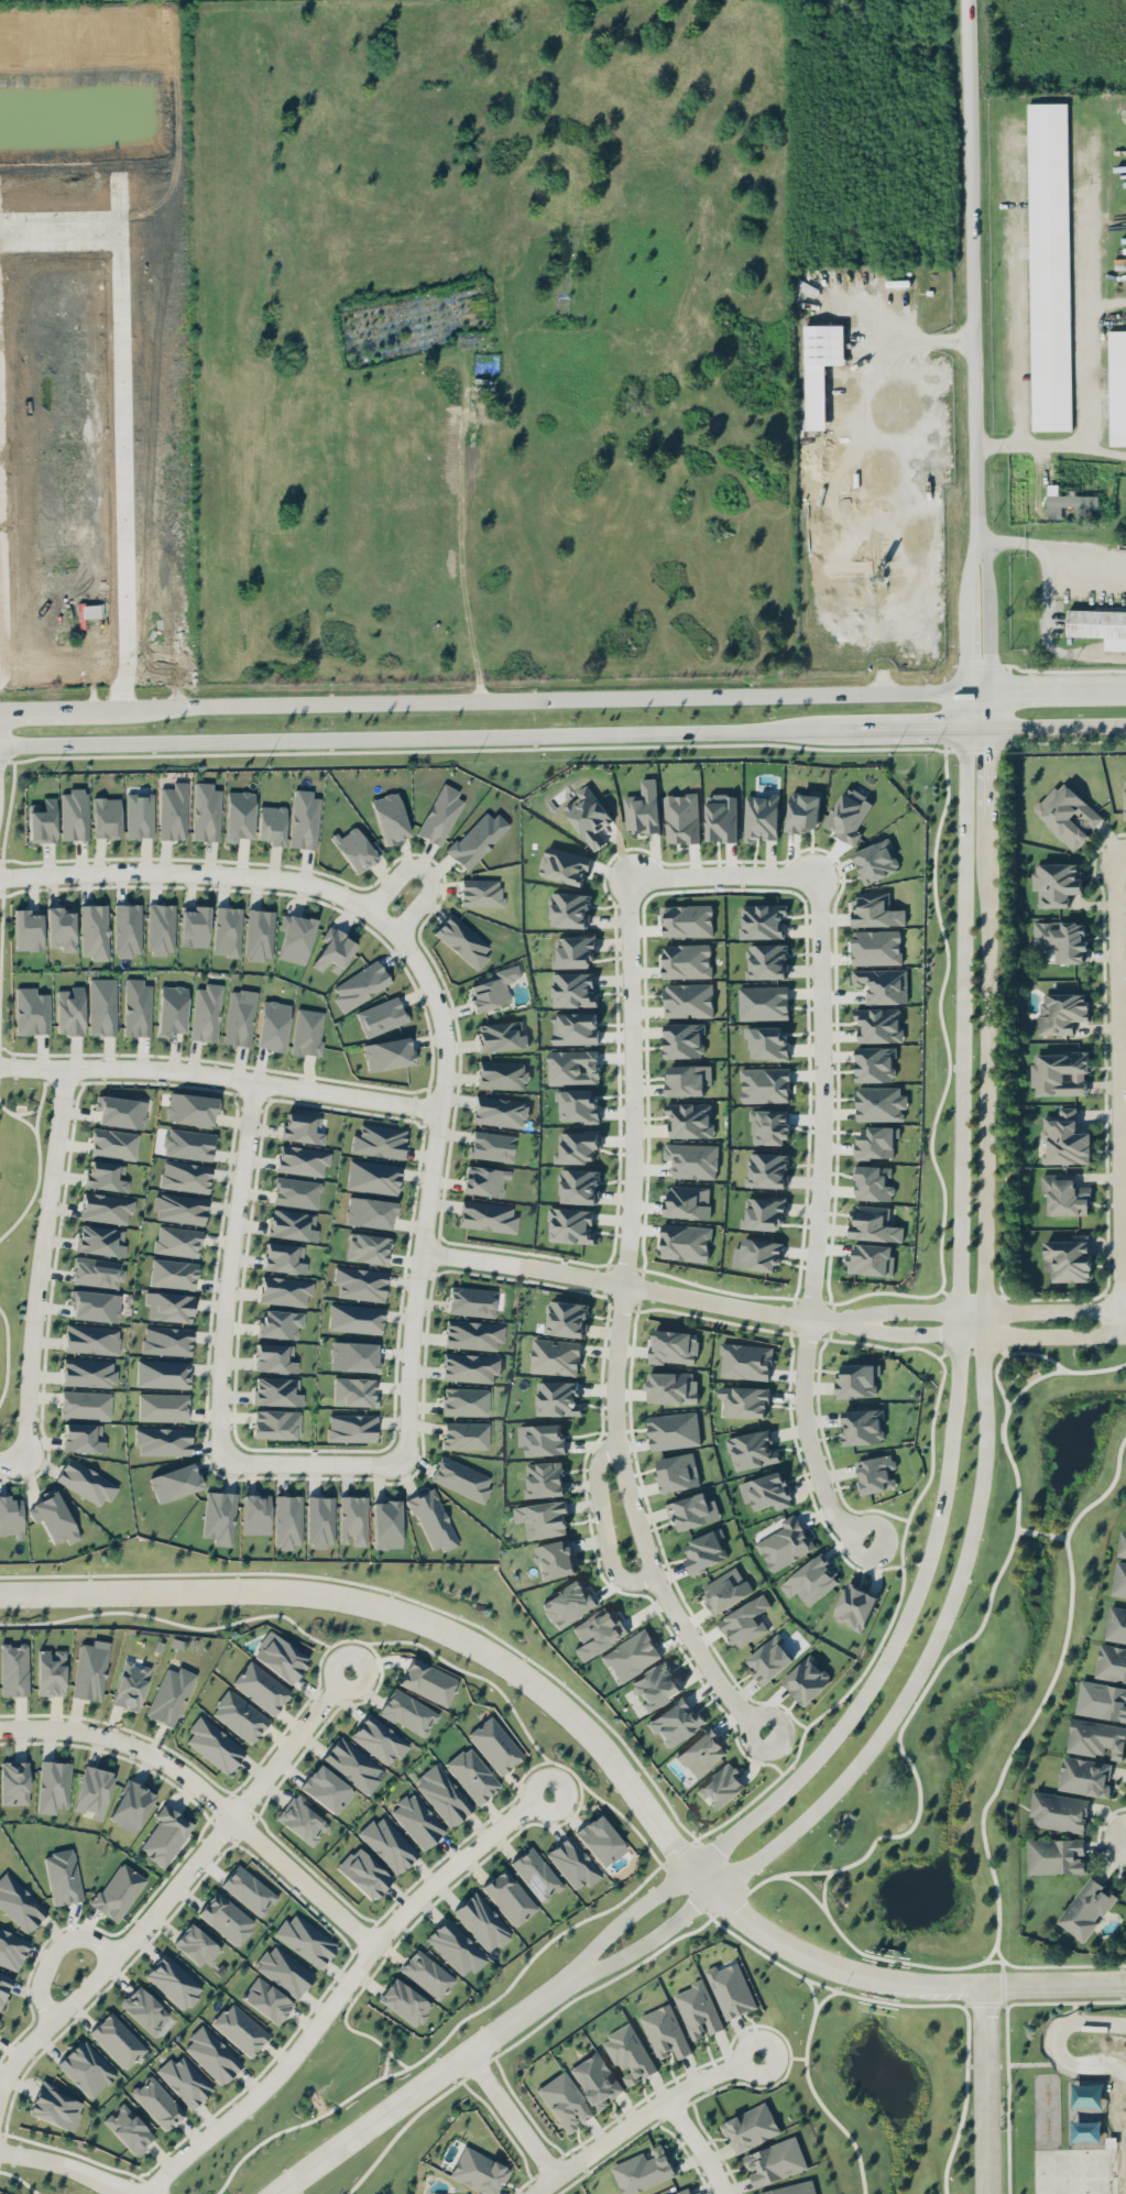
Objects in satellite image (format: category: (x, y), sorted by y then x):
building: (1049, 265)
road: (971, 271)
building: (820, 368)
road: (867, 385)
building: (1116, 386)
road: (1050, 445)
building: (1069, 499)
road: (1052, 547)
road: (459, 549)
road: (986, 589)
road: (968, 601)
building: (1098, 625)
building: (124, 646)
road: (990, 665)
road: (1058, 691)
road: (965, 694)
road: (494, 699)
road: (990, 710)
road: (1058, 725)
road: (495, 735)
building: (1124, 798)
building: (642, 808)
building: (173, 810)
building: (802, 810)
building: (205, 811)
building: (74, 814)
building: (440, 814)
building: (139, 815)
building: (238, 815)
building: (849, 815)
building: (1067, 815)
building: (588, 816)
building: (107, 817)
building: (390, 817)
building: (761, 817)
building: (681, 818)
building: (721, 818)
building: (304, 819)
building: (42, 820)
building: (272, 823)
building: (477, 839)
building: (356, 848)
building: (875, 861)
road: (1123, 861)
building: (565, 865)
road: (425, 870)
road: (726, 877)
road: (299, 880)
building: (1056, 882)
building: (481, 892)
building: (569, 909)
building: (875, 909)
building: (687, 920)
building: (762, 920)
building: (194, 926)
building: (61, 928)
building: (161, 928)
building: (28, 929)
building: (128, 929)
building: (94, 930)
building: (227, 930)
building: (259, 934)
building: (296, 938)
building: (1061, 938)
building: (462, 939)
building: (876, 947)
building: (332, 951)
building: (573, 951)
building: (686, 960)
building: (766, 961)
building: (882, 984)
building: (360, 985)
building: (493, 989)
building: (572, 990)
building: (688, 1000)
building: (763, 1002)
building: (102, 1006)
building: (136, 1007)
building: (172, 1009)
building: (31, 1011)
building: (69, 1011)
building: (206, 1012)
building: (1061, 1012)
building: (381, 1016)
building: (240, 1017)
building: (273, 1025)
building: (878, 1025)
building: (575, 1028)
building: (307, 1031)
building: (501, 1036)
building: (682, 1040)
building: (767, 1043)
building: (387, 1054)
building: (875, 1063)
building: (572, 1067)
building: (1060, 1072)
building: (502, 1073)
road: (220, 1074)
building: (687, 1079)
road: (634, 1082)
building: (765, 1084)
road: (1114, 1099)
building: (879, 1103)
building: (578, 1106)
building: (192, 1107)
building: (121, 1111)
building: (500, 1111)
building: (689, 1120)
building: (768, 1126)
building: (303, 1127)
building: (1063, 1138)
building: (379, 1140)
building: (875, 1142)
building: (113, 1143)
building: (188, 1143)
building: (492, 1145)
building: (578, 1146)
building: (303, 1159)
building: (692, 1160)
building: (767, 1170)
building: (106, 1176)
building: (185, 1176)
building: (373, 1176)
building: (484, 1180)
building: (873, 1182)
building: (579, 1186)
building: (296, 1191)
building: (1063, 1193)
building: (687, 1202)
building: (106, 1208)
building: (179, 1208)
building: (370, 1212)
building: (765, 1214)
building: (487, 1215)
road: (818, 1222)
building: (292, 1224)
building: (874, 1224)
building: (570, 1225)
building: (101, 1240)
building: (177, 1241)
building: (685, 1242)
building: (368, 1248)
building: (757, 1255)
building: (1067, 1256)
building: (284, 1257)
building: (871, 1259)
road: (40, 1260)
road: (229, 1269)
building: (97, 1271)
building: (173, 1274)
building: (360, 1282)
road: (416, 1285)
road: (639, 1288)
building: (285, 1290)
building: (472, 1301)
building: (95, 1305)
building: (170, 1306)
road: (908, 1311)
road: (1042, 1311)
building: (354, 1318)
building: (566, 1318)
building: (280, 1323)
building: (472, 1333)
road: (907, 1335)
road: (1041, 1336)
building: (91, 1339)
building: (166, 1340)
road: (1005, 1345)
building: (673, 1346)
road: (1007, 1353)
building: (353, 1355)
building: (555, 1356)
building: (274, 1357)
building: (745, 1361)
building: (470, 1366)
building: (88, 1372)
building: (163, 1373)
building: (856, 1380)
building: (670, 1387)
building: (277, 1390)
building: (353, 1390)
building: (557, 1398)
building: (464, 1400)
building: (744, 1401)
building: (86, 1404)
road: (1010, 1404)
building: (163, 1406)
building: (276, 1423)
building: (351, 1427)
building: (862, 1427)
road: (950, 1429)
building: (674, 1430)
building: (464, 1434)
building: (83, 1437)
building: (542, 1439)
building: (163, 1440)
road: (985, 1445)
building: (752, 1450)
road: (12, 1459)
road: (314, 1461)
building: (677, 1472)
building: (876, 1474)
building: (461, 1477)
building: (544, 1478)
building: (86, 1481)
building: (175, 1482)
building: (766, 1491)
building: (692, 1510)
building: (255, 1514)
building: (11, 1516)
building: (54, 1517)
building: (219, 1517)
building: (352, 1518)
building: (543, 1518)
building: (433, 1519)
building: (320, 1520)
building: (287, 1521)
building: (385, 1524)
road: (603, 1527)
road: (637, 1527)
road: (1024, 1530)
road: (1041, 1532)
road: (1057, 1535)
building: (1122, 1541)
building: (785, 1543)
building: (704, 1551)
building: (554, 1559)
building: (1119, 1579)
building: (810, 1580)
building: (725, 1590)
building: (567, 1604)
building: (855, 1605)
building: (745, 1620)
building: (1116, 1624)
building: (598, 1631)
building: (631, 1655)
building: (280, 1657)
building: (768, 1659)
building: (1111, 1662)
building: (13, 1669)
building: (90, 1670)
building: (51, 1671)
building: (806, 1680)
building: (428, 1681)
building: (131, 1685)
building: (655, 1685)
building: (261, 1687)
road: (1048, 1687)
building: (170, 1694)
building: (1101, 1700)
building: (408, 1712)
building: (239, 1715)
building: (675, 1722)
road: (592, 1736)
building: (1096, 1737)
building: (379, 1738)
building: (214, 1744)
building: (494, 1744)
building: (701, 1753)
building: (353, 1765)
road: (915, 1772)
building: (472, 1775)
building: (1084, 1775)
building: (14, 1782)
building: (53, 1786)
building: (721, 1787)
building: (327, 1789)
building: (92, 1791)
road: (208, 1793)
building: (442, 1793)
building: (131, 1805)
building: (1058, 1811)
building: (302, 1820)
building: (417, 1820)
building: (165, 1834)
building: (600, 1840)
building: (387, 1843)
building: (1054, 1855)
building: (573, 1863)
building: (364, 1873)
building: (536, 1874)
building: (63, 1876)
road: (177, 1880)
building: (249, 1889)
road: (823, 1889)
building: (118, 1891)
building: (509, 1897)
building: (19, 1903)
building: (1086, 1908)
building: (226, 1918)
building: (481, 1921)
building: (305, 1939)
building: (197, 1945)
building: (456, 1946)
building: (12, 1949)
road: (51, 1951)
road: (998, 1953)
road: (874, 1956)
road: (1054, 1965)
building: (284, 1969)
building: (427, 1973)
road: (1002, 1973)
building: (174, 1980)
building: (4, 1986)
road: (345, 1987)
building: (731, 1989)
road: (815, 1996)
road: (973, 1997)
building: (266, 1999)
building: (405, 2001)
road: (914, 2004)
building: (144, 2009)
building: (698, 2010)
building: (240, 2028)
building: (665, 2031)
building: (117, 2040)
road: (1056, 2043)
building: (1015, 2049)
building: (212, 2054)
building: (630, 2054)
road: (783, 2056)
building: (86, 2067)
building: (184, 2080)
building: (597, 2080)
road: (419, 2088)
road: (985, 2091)
road: (815, 2092)
building: (565, 2100)
building: (157, 2102)
building: (54, 2106)
road: (512, 2116)
road: (639, 2116)
building: (750, 2127)
building: (128, 2128)
road: (697, 2144)
building: (775, 2162)
road: (65, 2165)
building: (479, 2171)
building: (643, 2171)
park: (1080, 2171)
building: (792, 2188)
building: (684, 2191)

